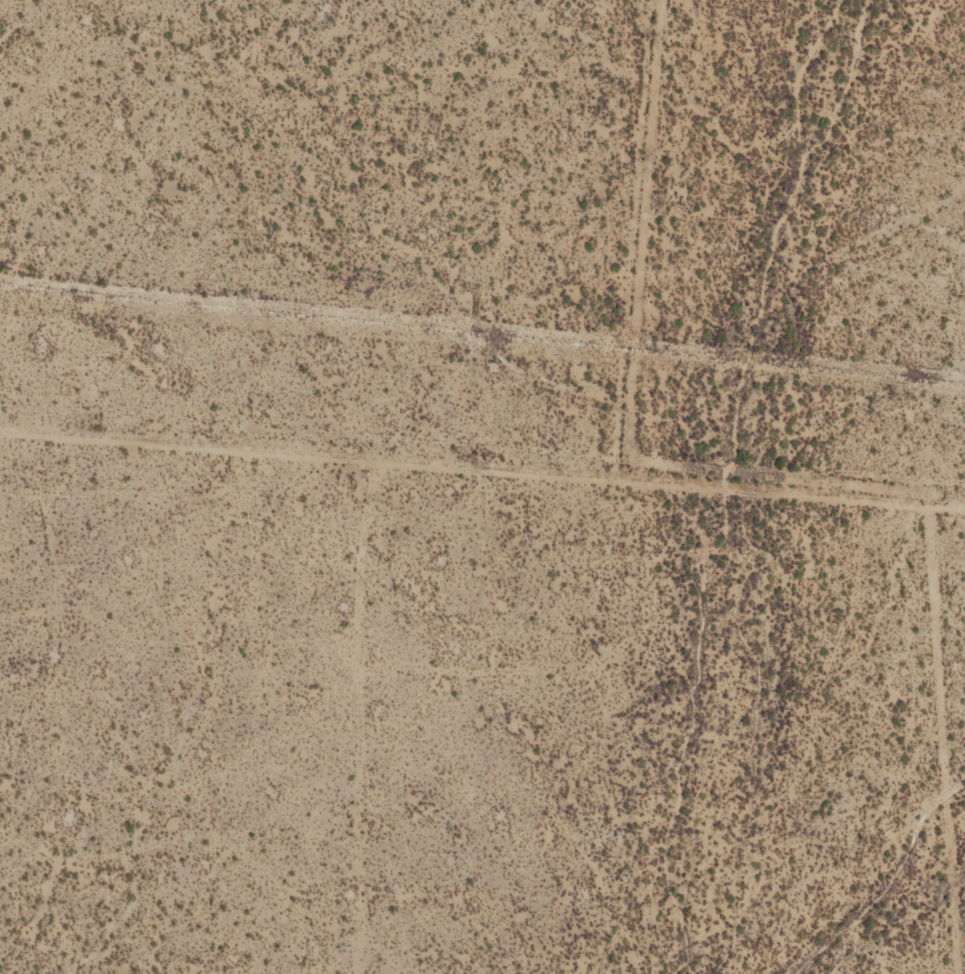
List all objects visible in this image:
road: (482, 404)

